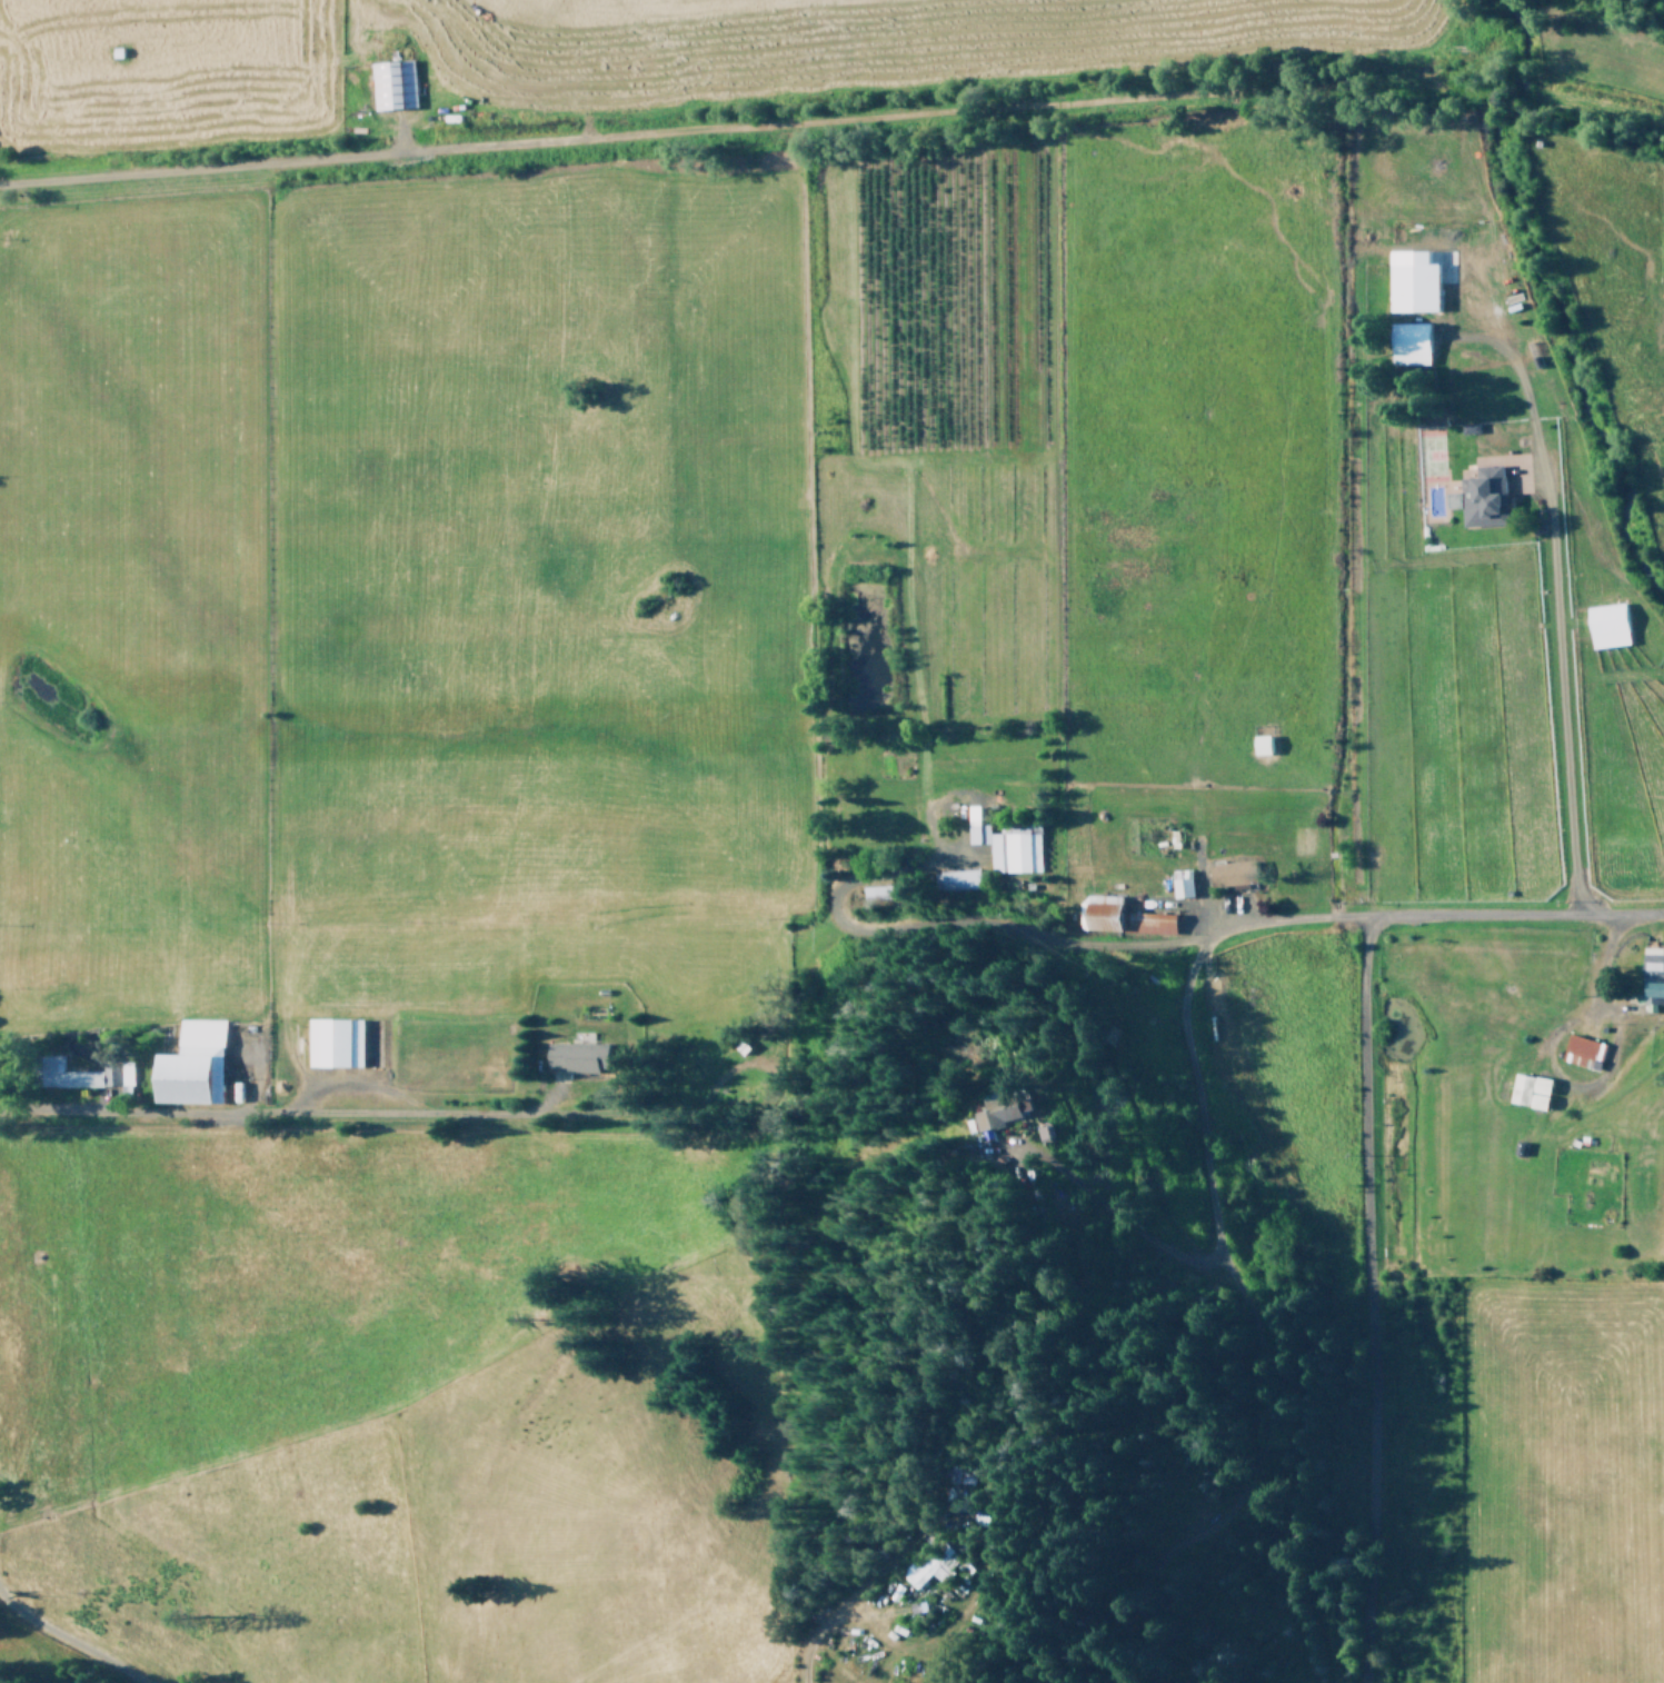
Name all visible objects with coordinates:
building: (390, 83)
road: (664, 131)
building: (1411, 280)
building: (1407, 341)
building: (1482, 495)
building: (1605, 624)
road: (1558, 685)
building: (1006, 843)
building: (1230, 873)
building: (1180, 882)
road: (1514, 912)
building: (1150, 922)
building: (1652, 976)
road: (1179, 1014)
building: (332, 1042)
building: (1581, 1050)
building: (576, 1056)
building: (189, 1064)
building: (74, 1074)
building: (1527, 1089)
building: (986, 1114)
road: (1364, 1298)
road: (1242, 1490)
building: (910, 1557)
road: (805, 1639)

